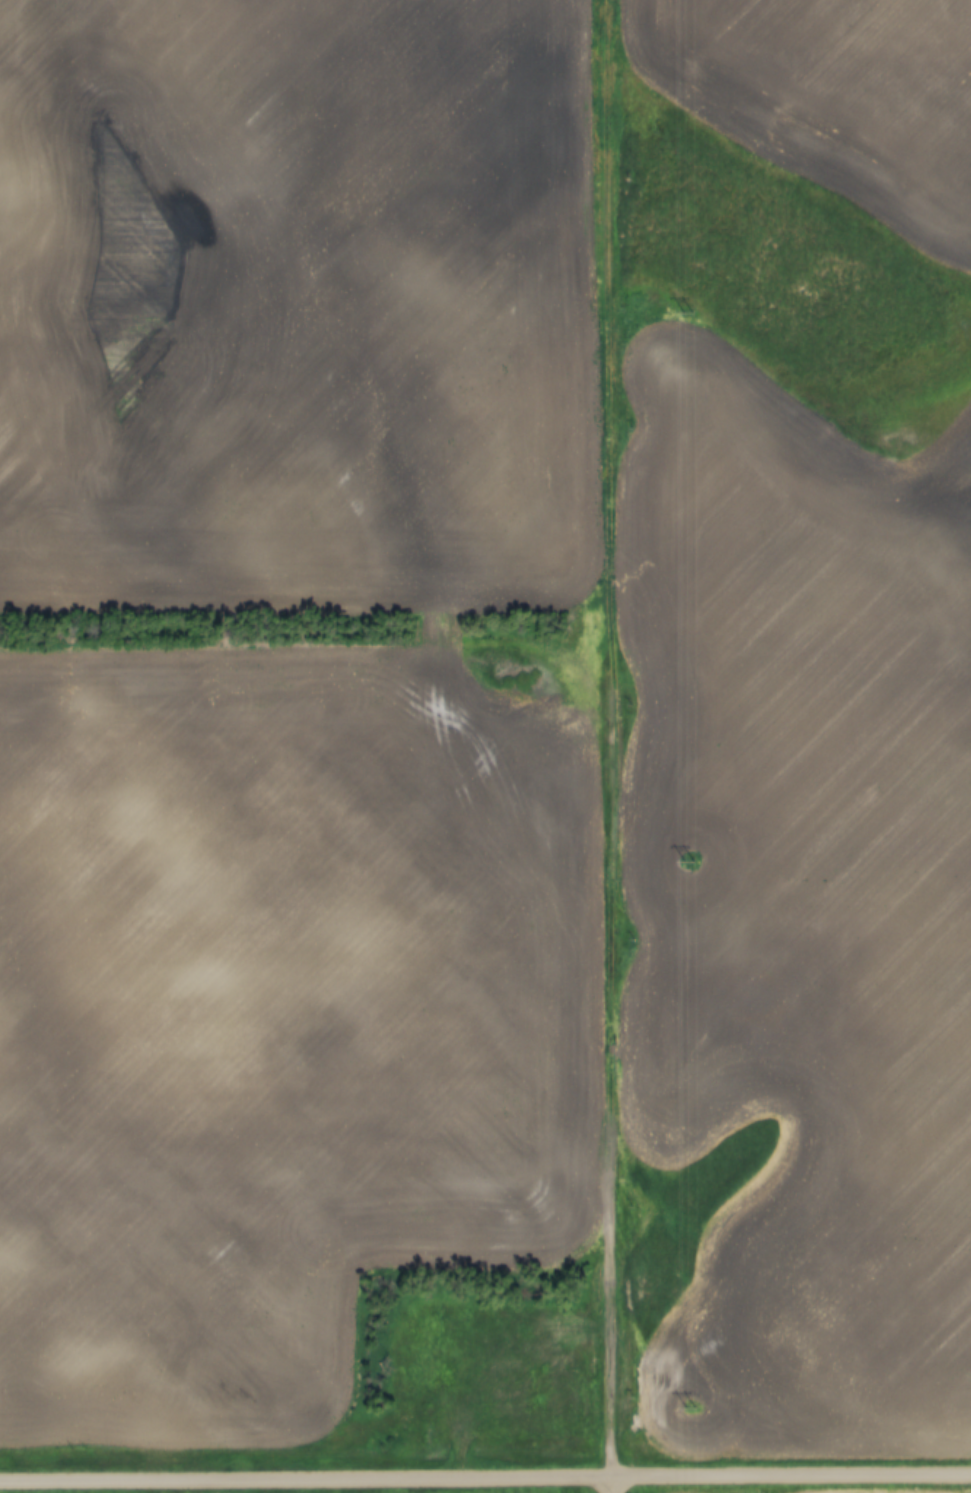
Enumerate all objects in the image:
power tower: (685, 311)
road: (613, 737)
power tower: (687, 860)
power tower: (686, 1406)
road: (485, 1475)
road: (613, 1484)

